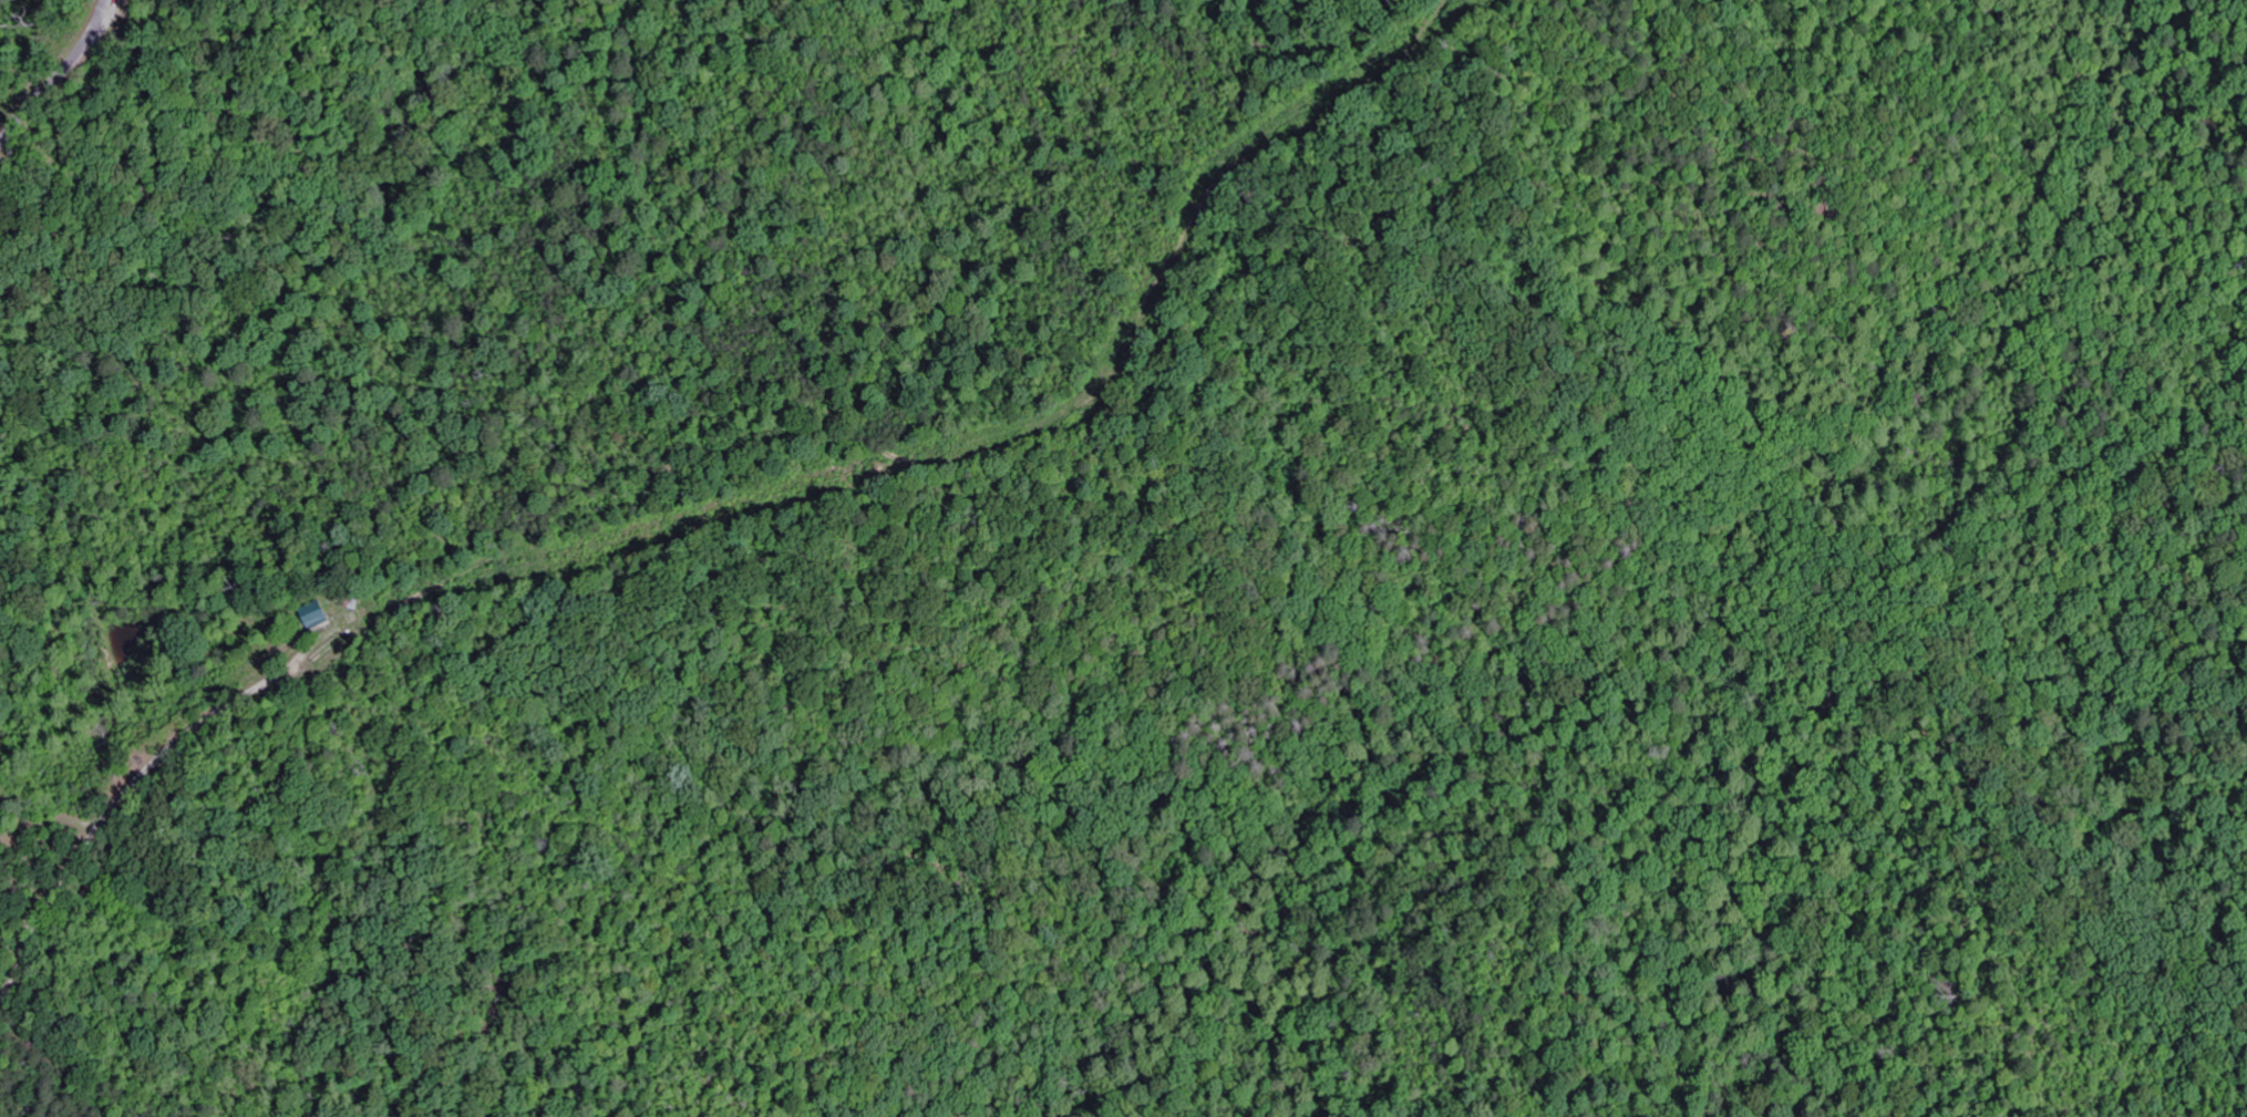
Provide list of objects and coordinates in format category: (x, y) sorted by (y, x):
road: (59, 76)
building: (323, 617)
road: (113, 805)

